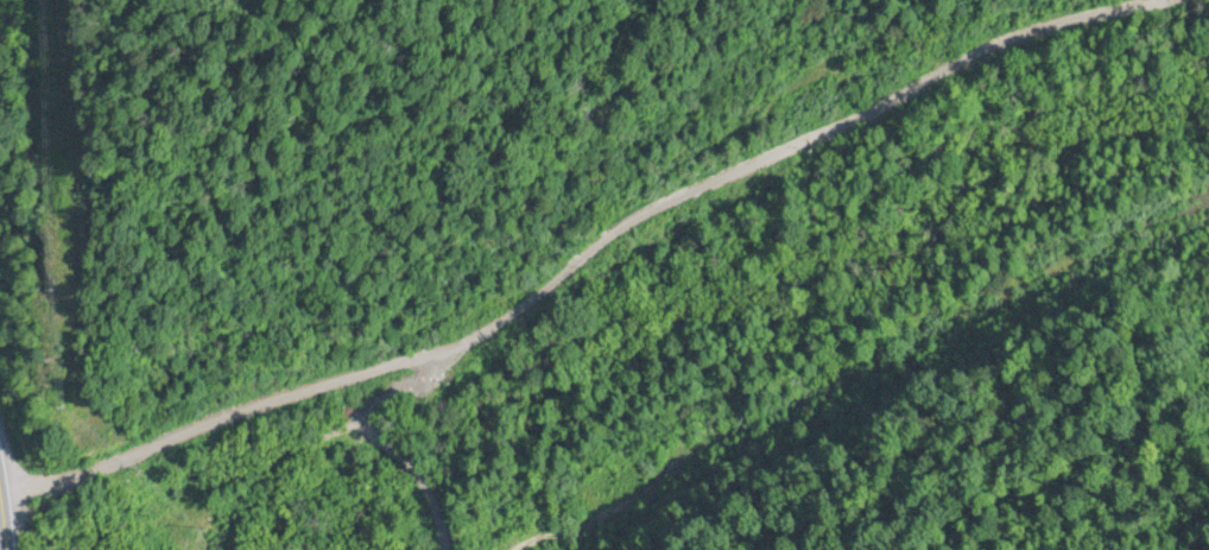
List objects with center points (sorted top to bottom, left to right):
road: (758, 159)
road: (223, 424)
road: (373, 444)
road: (5, 482)
road: (13, 526)

